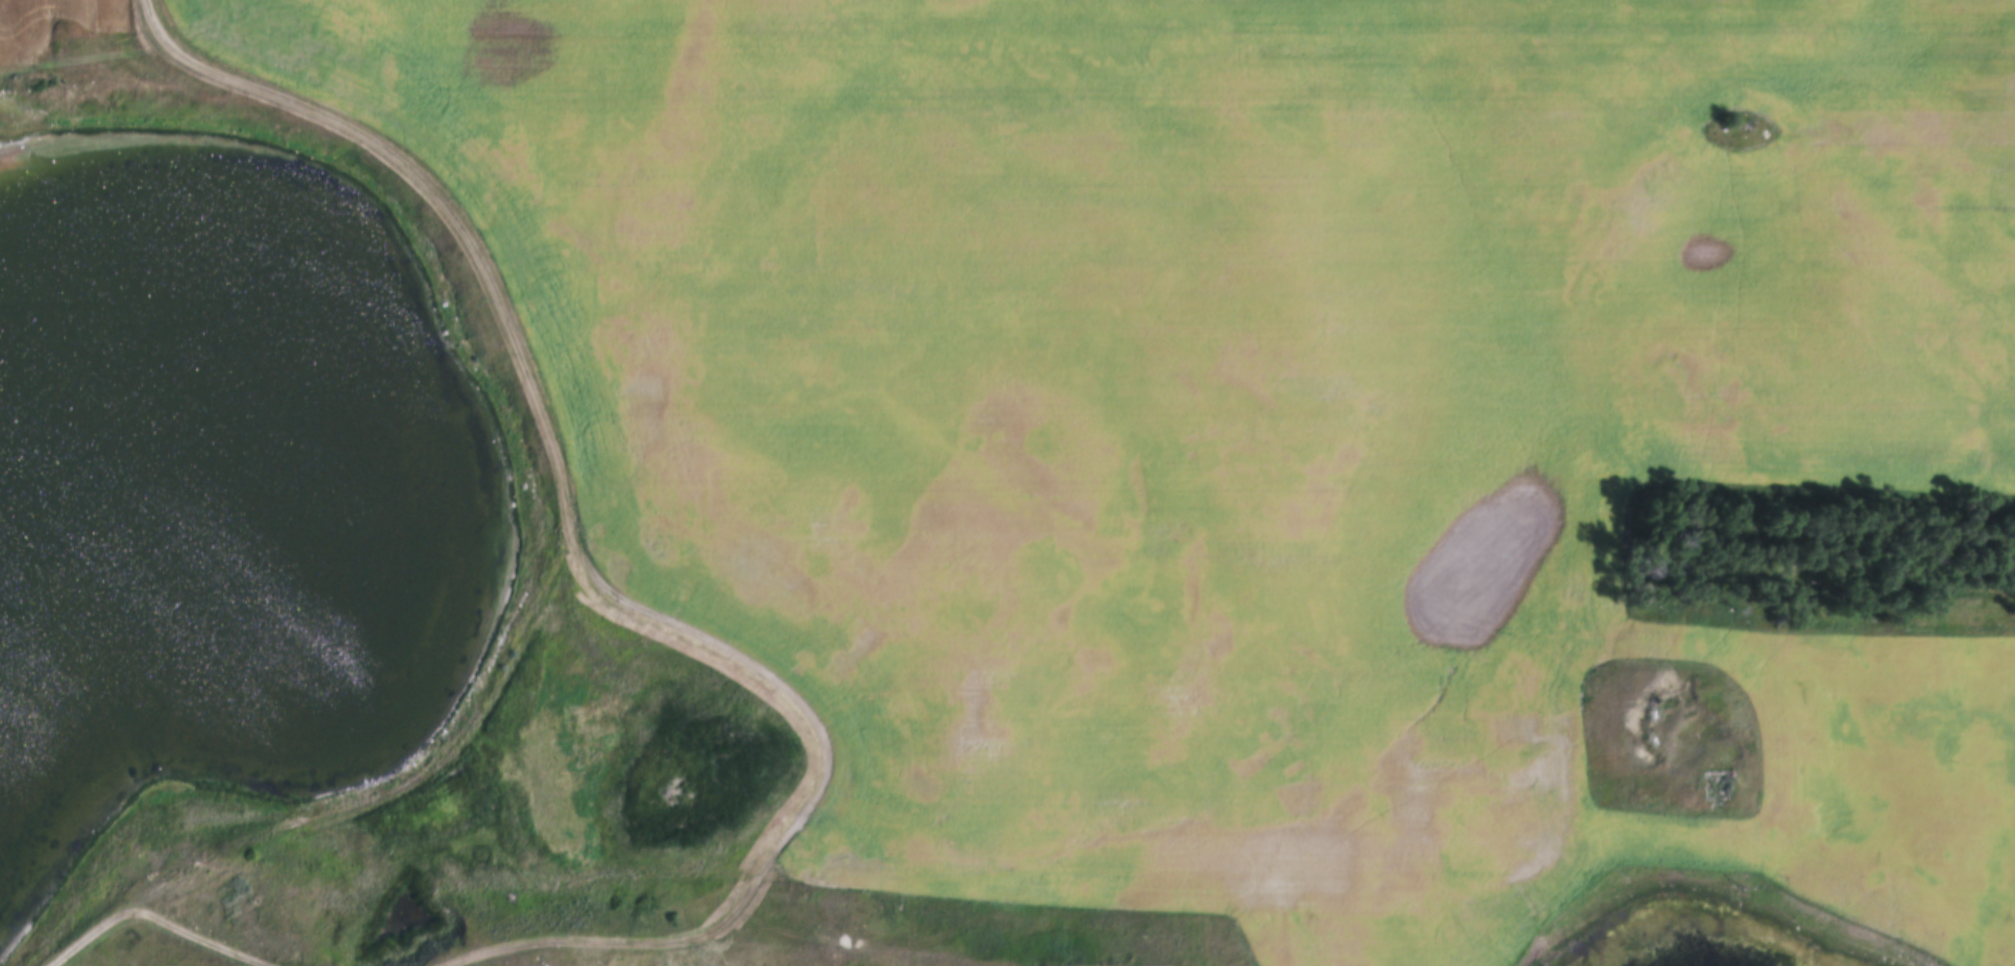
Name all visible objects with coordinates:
road: (575, 497)
road: (796, 815)
building: (1886, 894)
road: (217, 936)
road: (69, 950)

